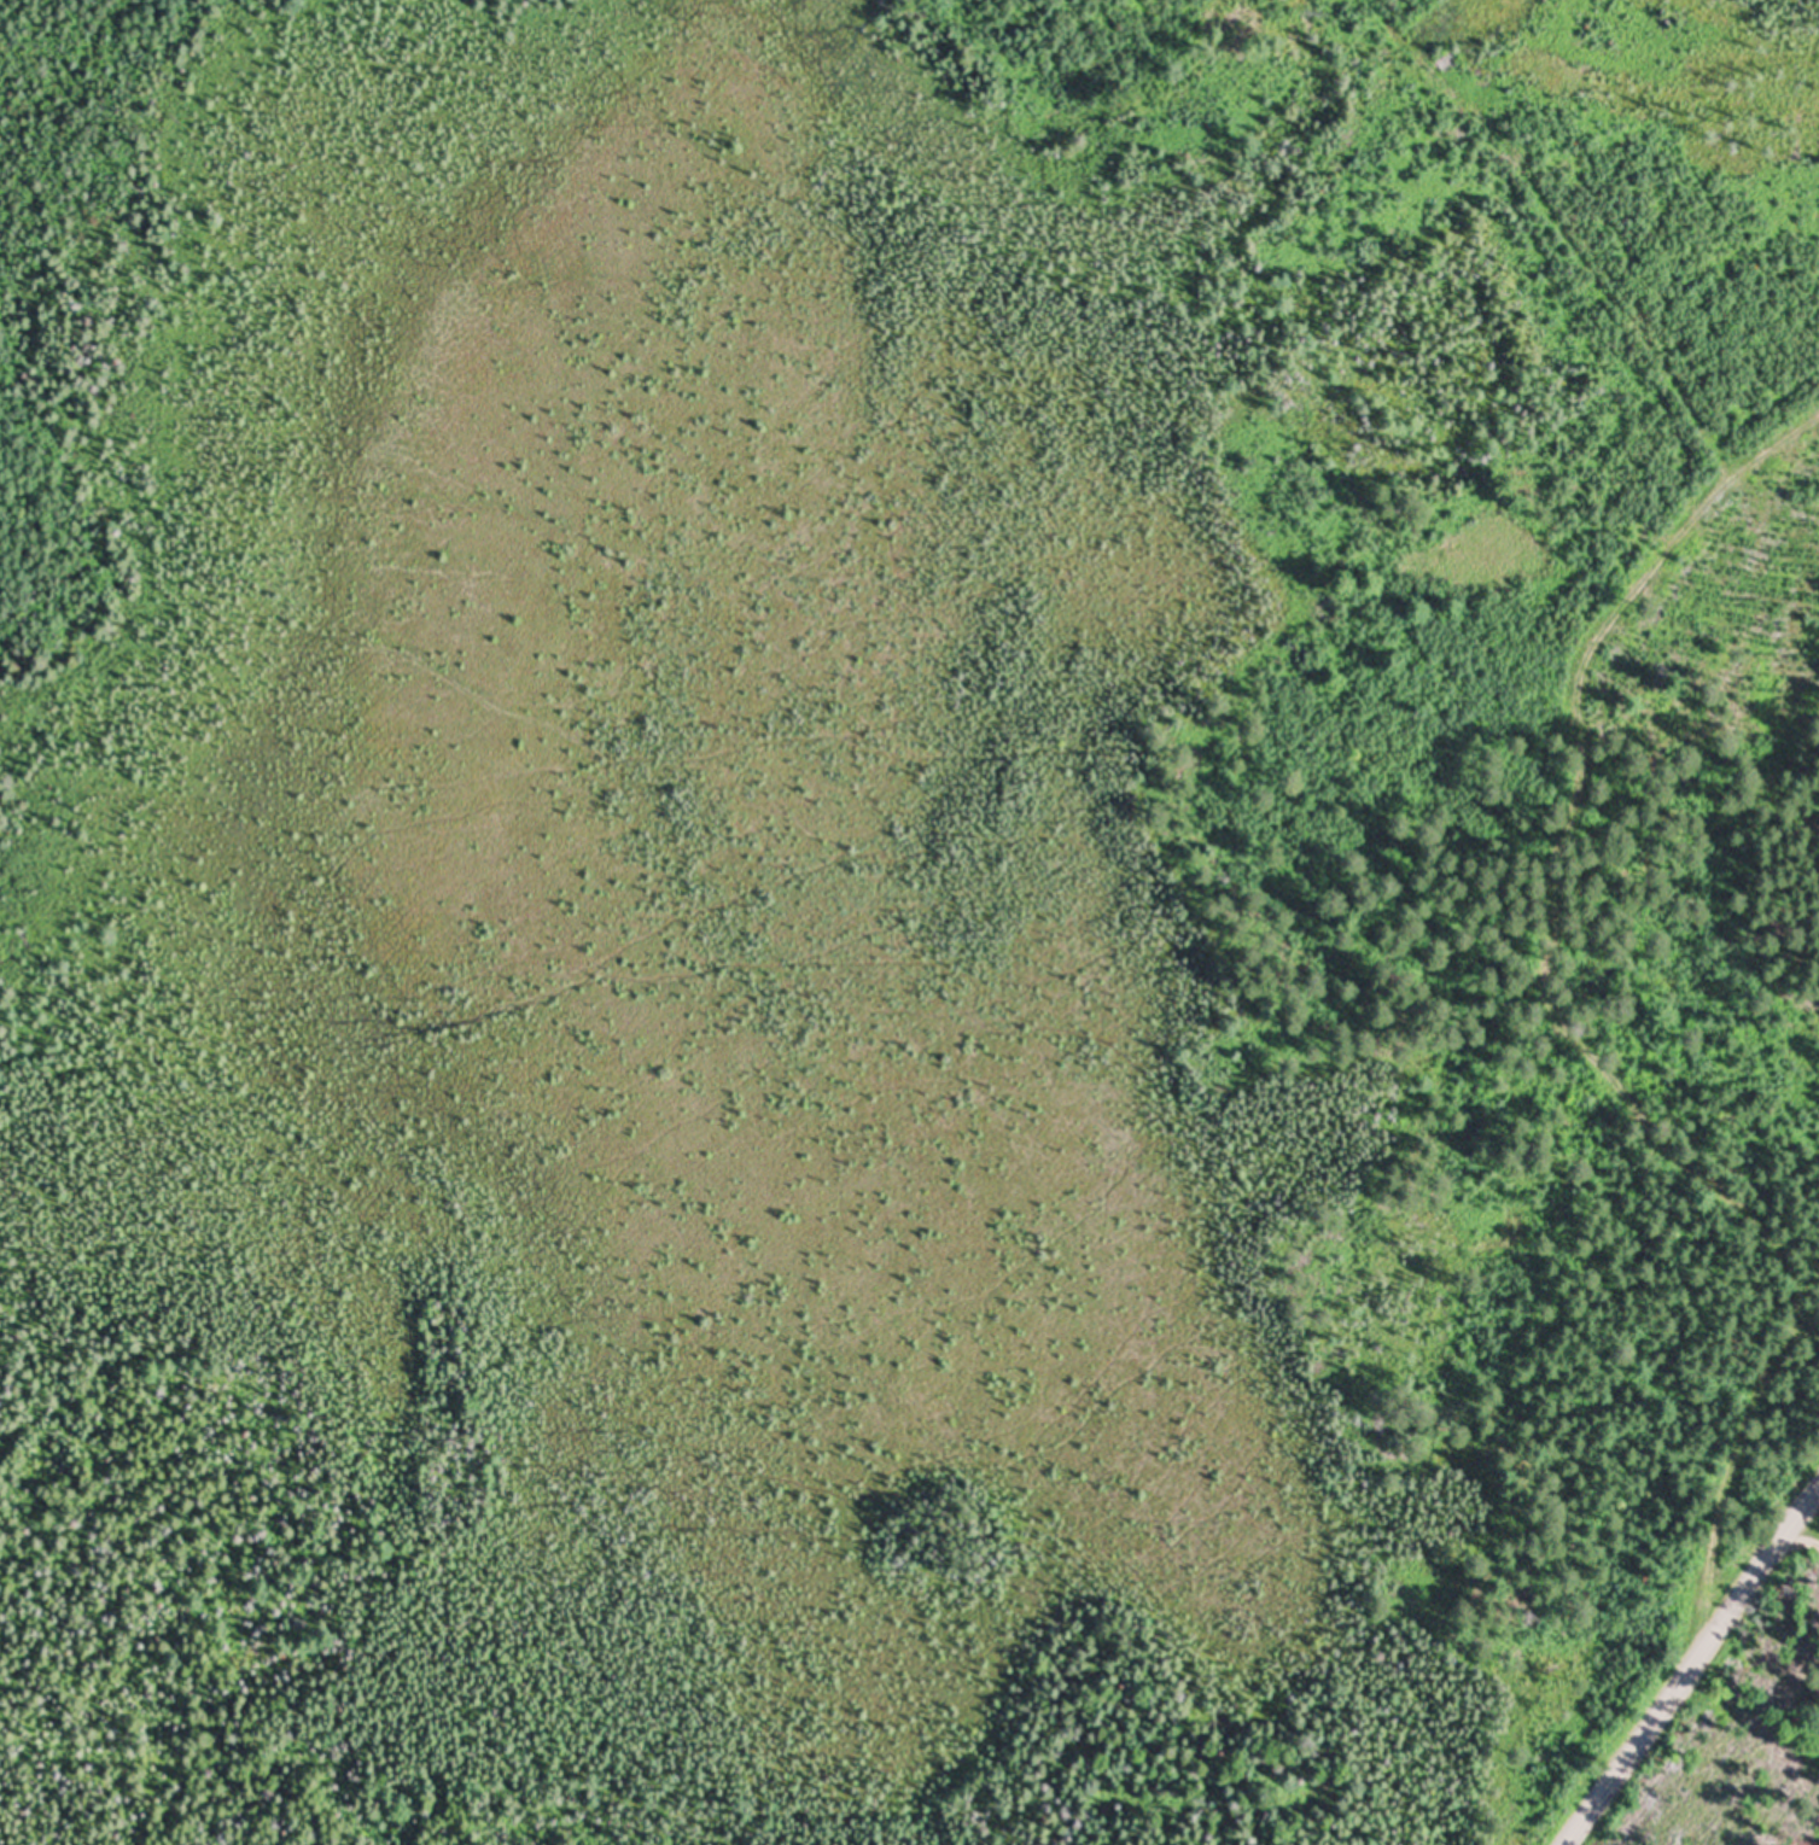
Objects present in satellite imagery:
road: (1692, 1669)

